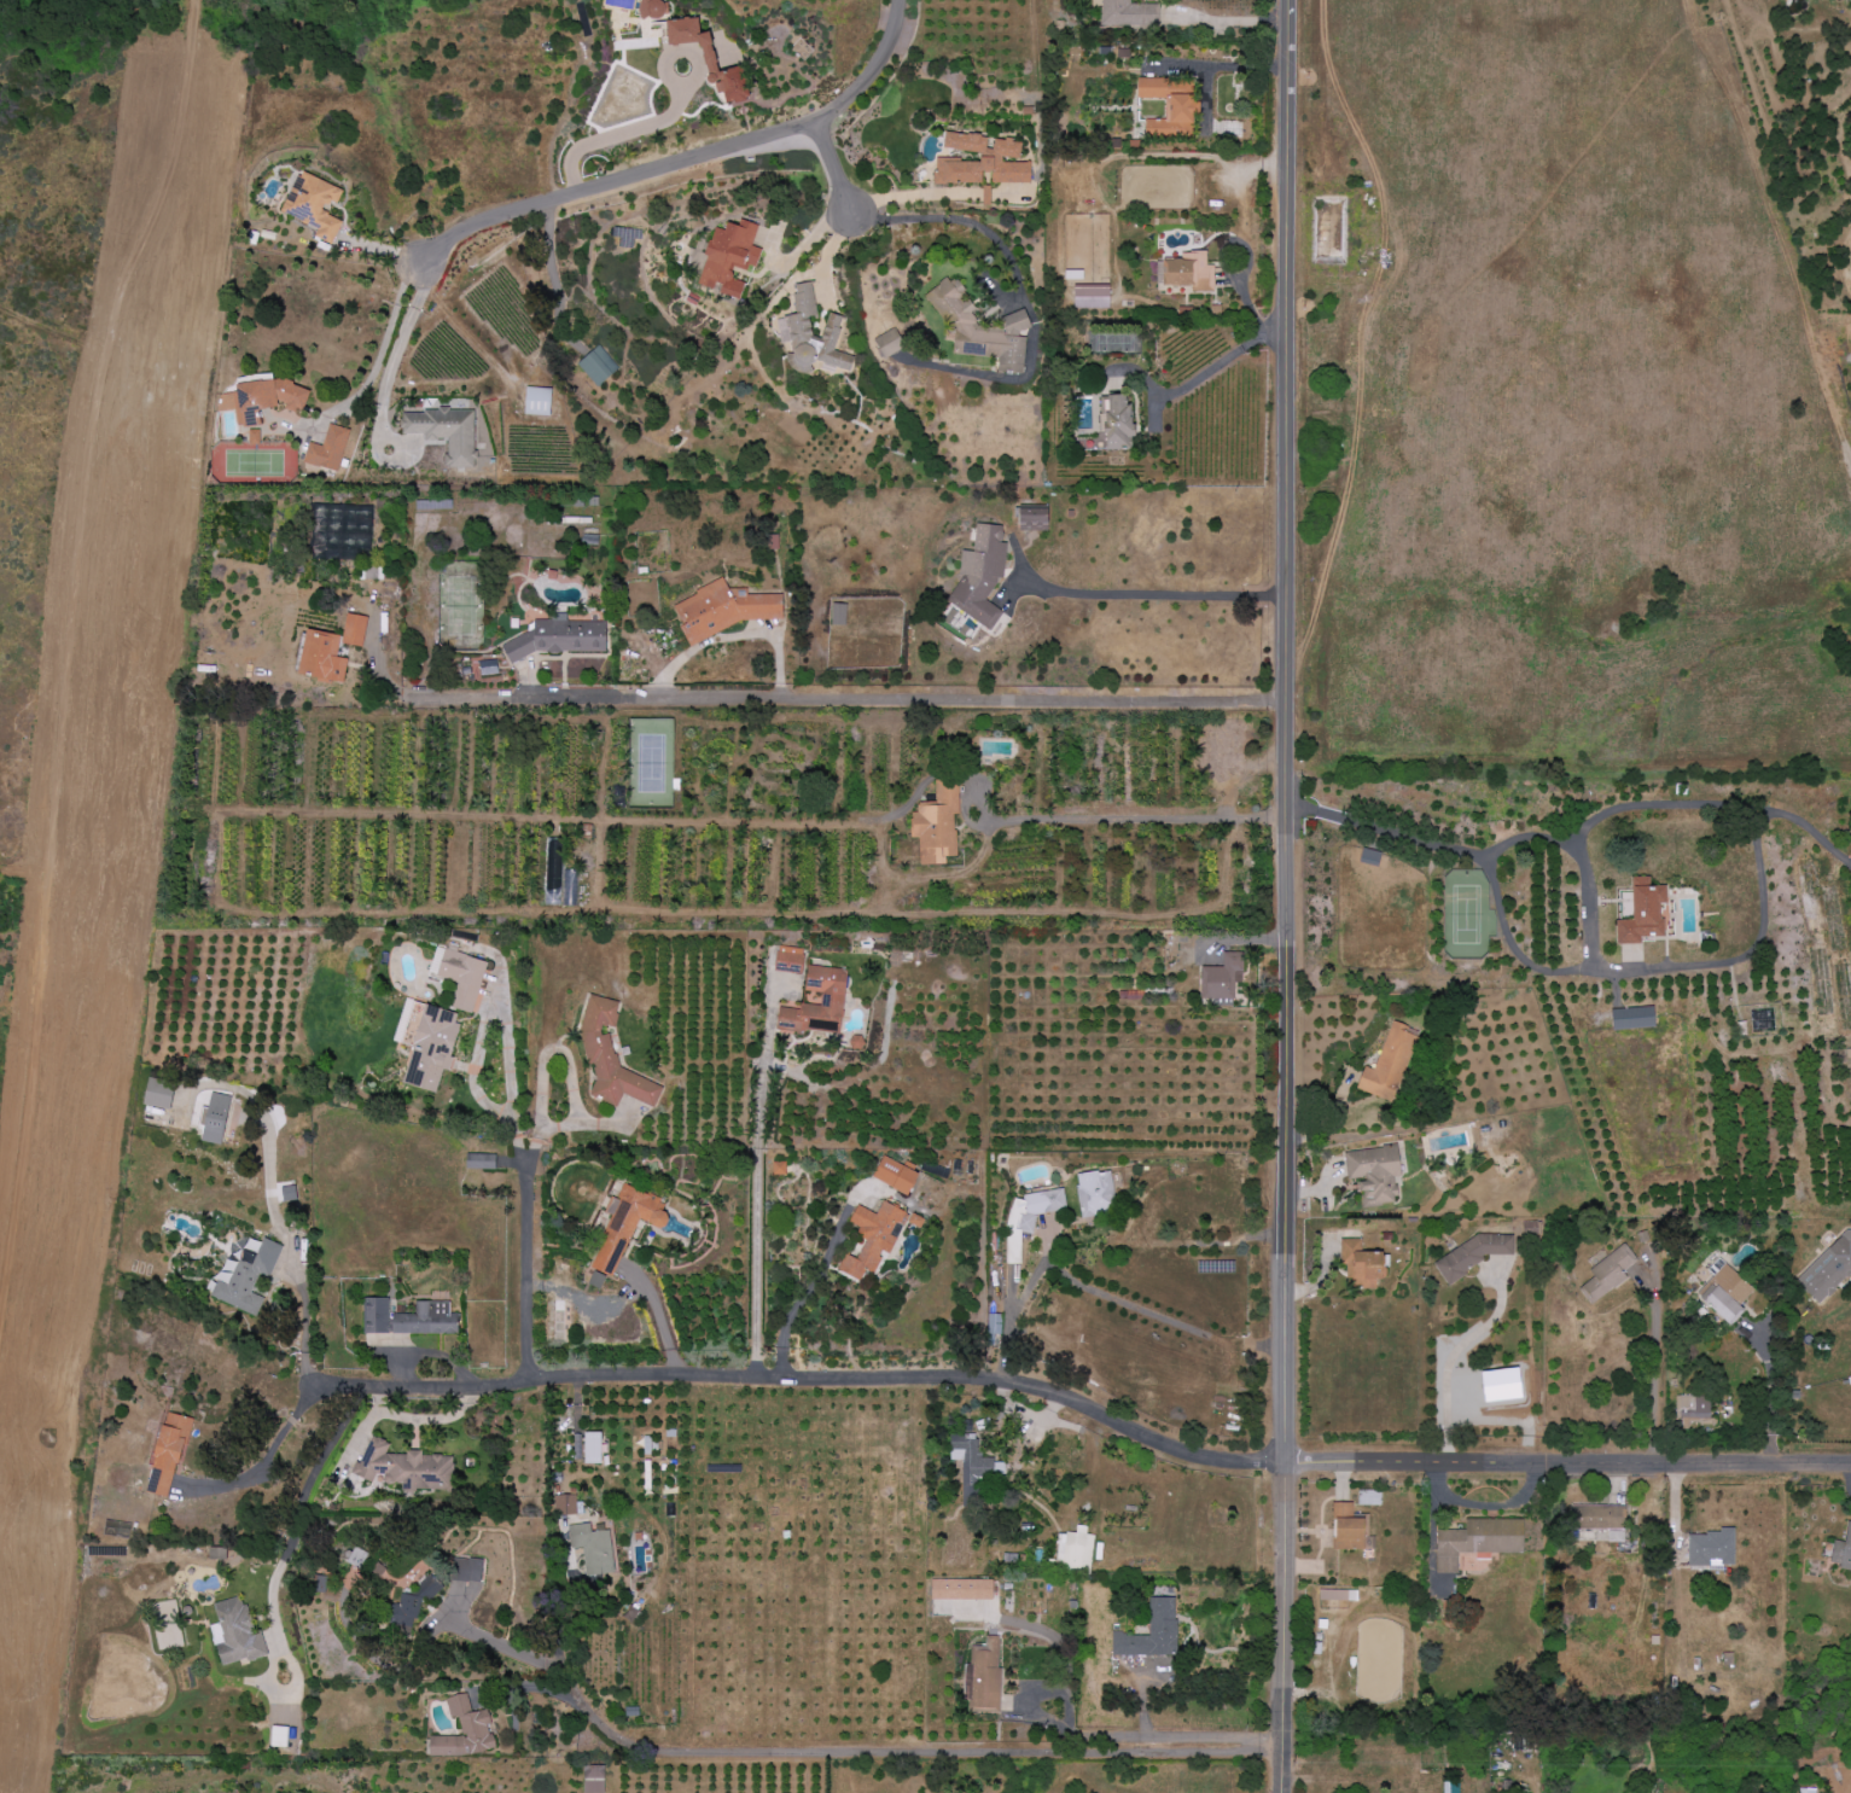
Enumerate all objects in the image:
building: (1129, 14)
building: (710, 59)
building: (1171, 107)
road: (671, 116)
building: (979, 161)
road: (687, 163)
building: (314, 205)
road: (1001, 250)
building: (729, 257)
building: (1189, 273)
building: (1092, 297)
building: (982, 328)
building: (811, 336)
building: (889, 343)
road: (382, 349)
road: (392, 357)
building: (598, 366)
road: (1218, 366)
building: (262, 400)
building: (537, 402)
building: (446, 433)
building: (328, 449)
building: (1034, 519)
building: (340, 531)
building: (980, 575)
road: (1156, 595)
building: (723, 610)
building: (839, 613)
building: (354, 629)
road: (71, 636)
building: (558, 638)
building: (322, 656)
road: (848, 695)
road: (1712, 807)
road: (1104, 819)
building: (937, 823)
road: (1568, 845)
building: (1370, 857)
road: (1286, 896)
building: (1643, 912)
building: (1830, 918)
building: (790, 959)
road: (1739, 959)
building: (459, 976)
building: (1222, 977)
building: (832, 997)
building: (1634, 1018)
building: (432, 1047)
building: (610, 1056)
building: (1389, 1064)
road: (510, 1081)
building: (159, 1093)
building: (215, 1119)
building: (481, 1162)
building: (779, 1168)
building: (1374, 1174)
building: (895, 1175)
road: (755, 1191)
building: (1095, 1193)
road: (272, 1199)
building: (1029, 1217)
building: (623, 1228)
building: (873, 1238)
building: (1362, 1264)
building: (1828, 1269)
road: (523, 1271)
building: (1607, 1274)
building: (245, 1275)
road: (625, 1293)
building: (1725, 1293)
building: (408, 1317)
building: (561, 1317)
building: (994, 1323)
road: (1456, 1356)
road: (1654, 1362)
road: (807, 1375)
road: (1771, 1395)
building: (1694, 1405)
building: (593, 1446)
building: (167, 1454)
road: (264, 1456)
building: (972, 1463)
road: (1567, 1465)
building: (406, 1468)
building: (1368, 1497)
road: (304, 1500)
building: (566, 1504)
building: (1605, 1520)
building: (1349, 1527)
building: (1478, 1541)
building: (593, 1548)
building: (1711, 1548)
building: (1075, 1550)
building: (1841, 1552)
building: (217, 1553)
building: (357, 1558)
building: (467, 1570)
building: (319, 1583)
building: (962, 1589)
building: (1338, 1595)
building: (235, 1632)
building: (1152, 1632)
road: (506, 1648)
building: (985, 1675)
building: (464, 1730)
building: (278, 1736)
road: (913, 1752)
building: (593, 1780)

